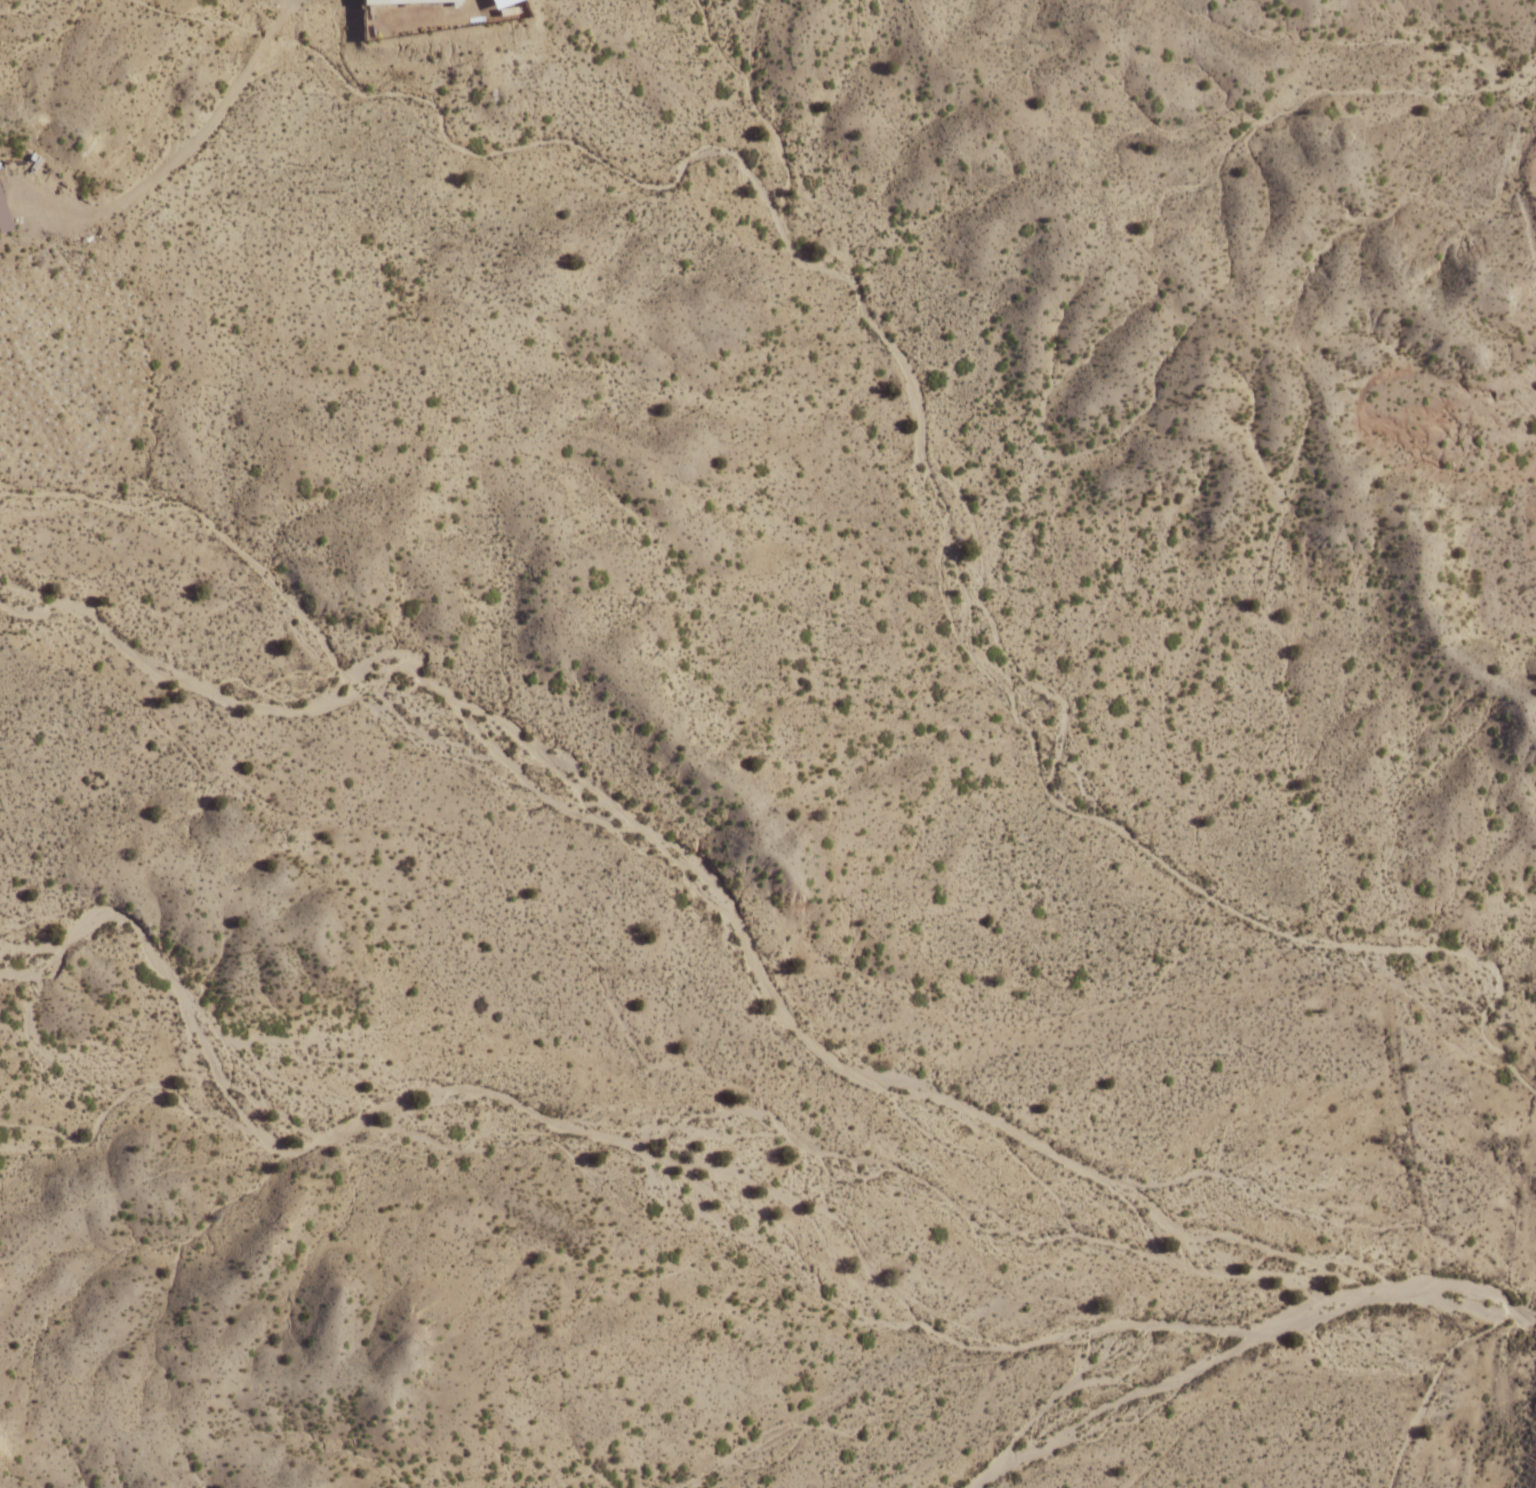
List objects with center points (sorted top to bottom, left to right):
building: (402, 1)
road: (758, 111)
road: (178, 158)
building: (4, 217)
road: (918, 411)
road: (1265, 569)
river: (151, 667)
road: (835, 713)
road: (837, 875)
river: (796, 1027)
road: (530, 1111)
road: (271, 1149)
road: (909, 1173)
road: (123, 1187)
river: (1459, 1284)
river: (1349, 1295)
river: (1459, 1305)
river: (1144, 1391)

